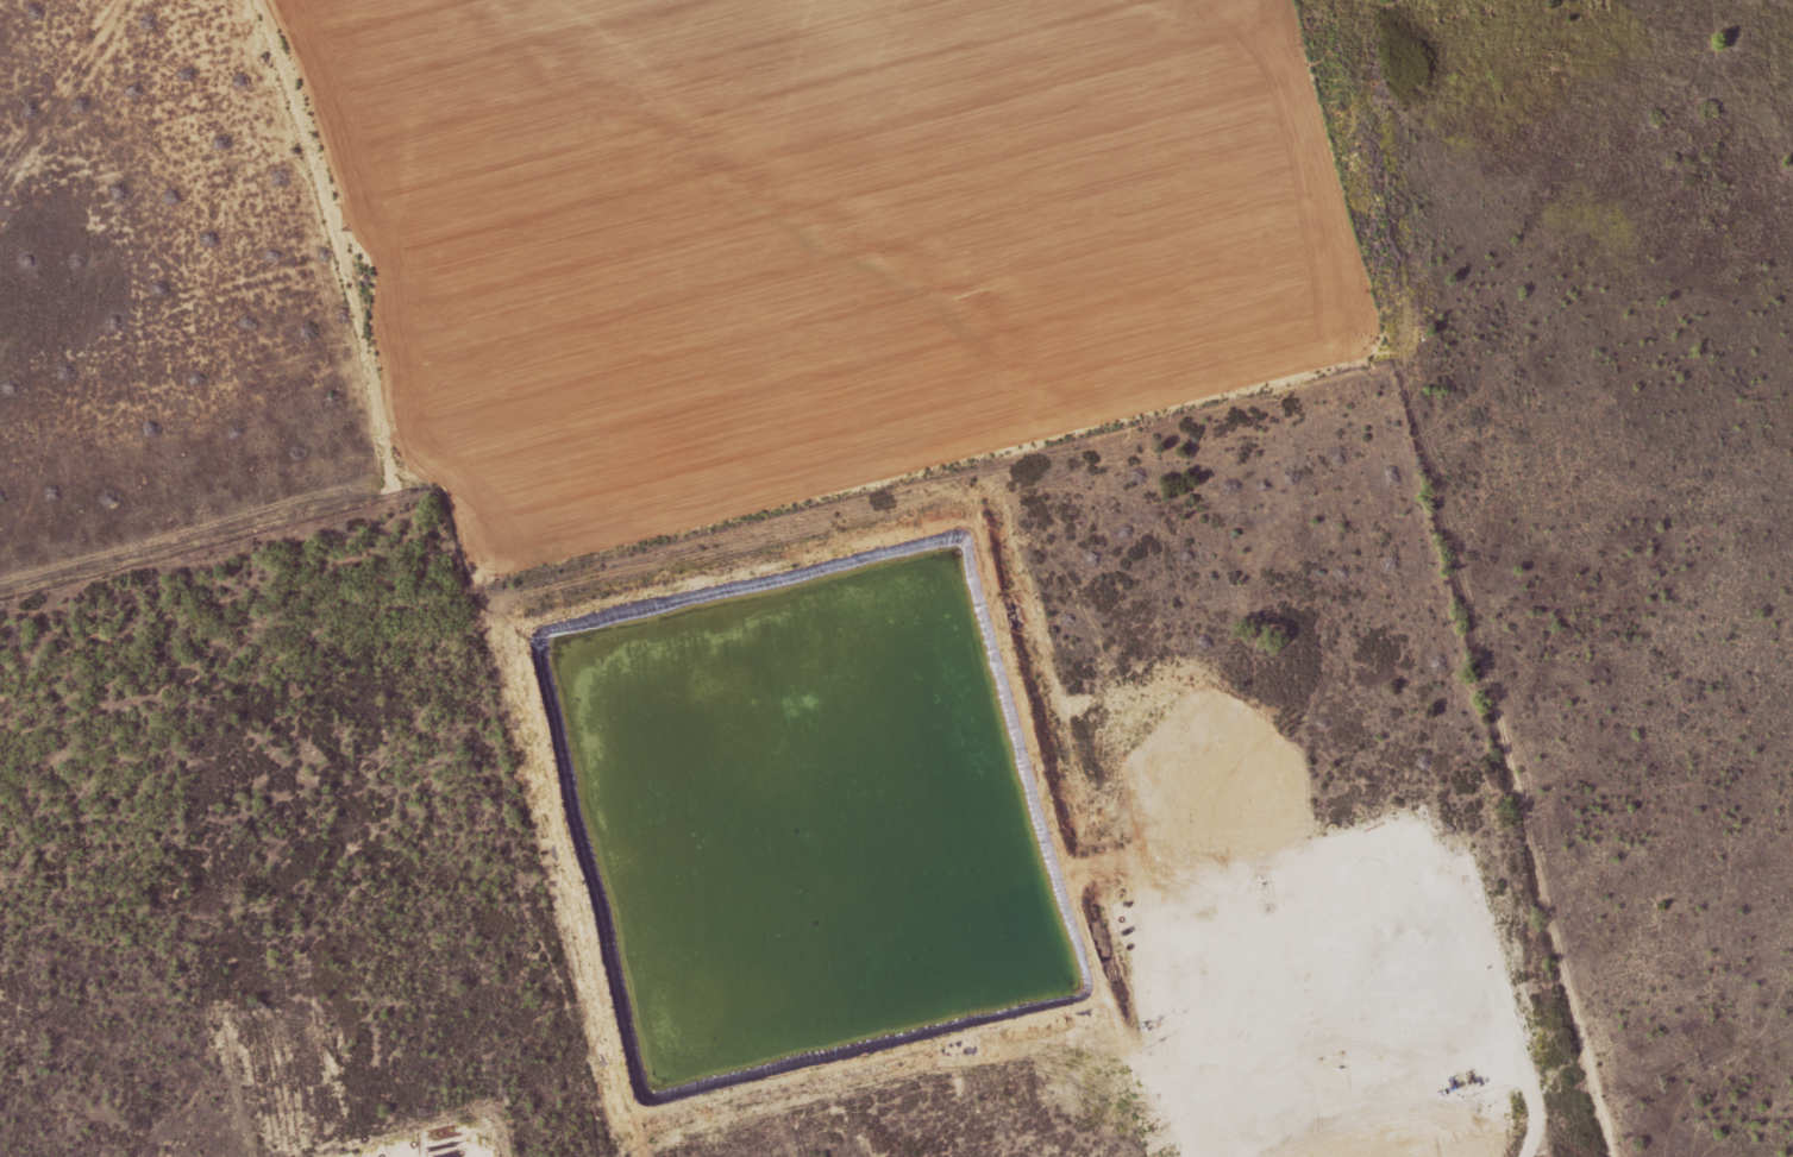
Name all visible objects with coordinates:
power tower: (1667, 1076)

